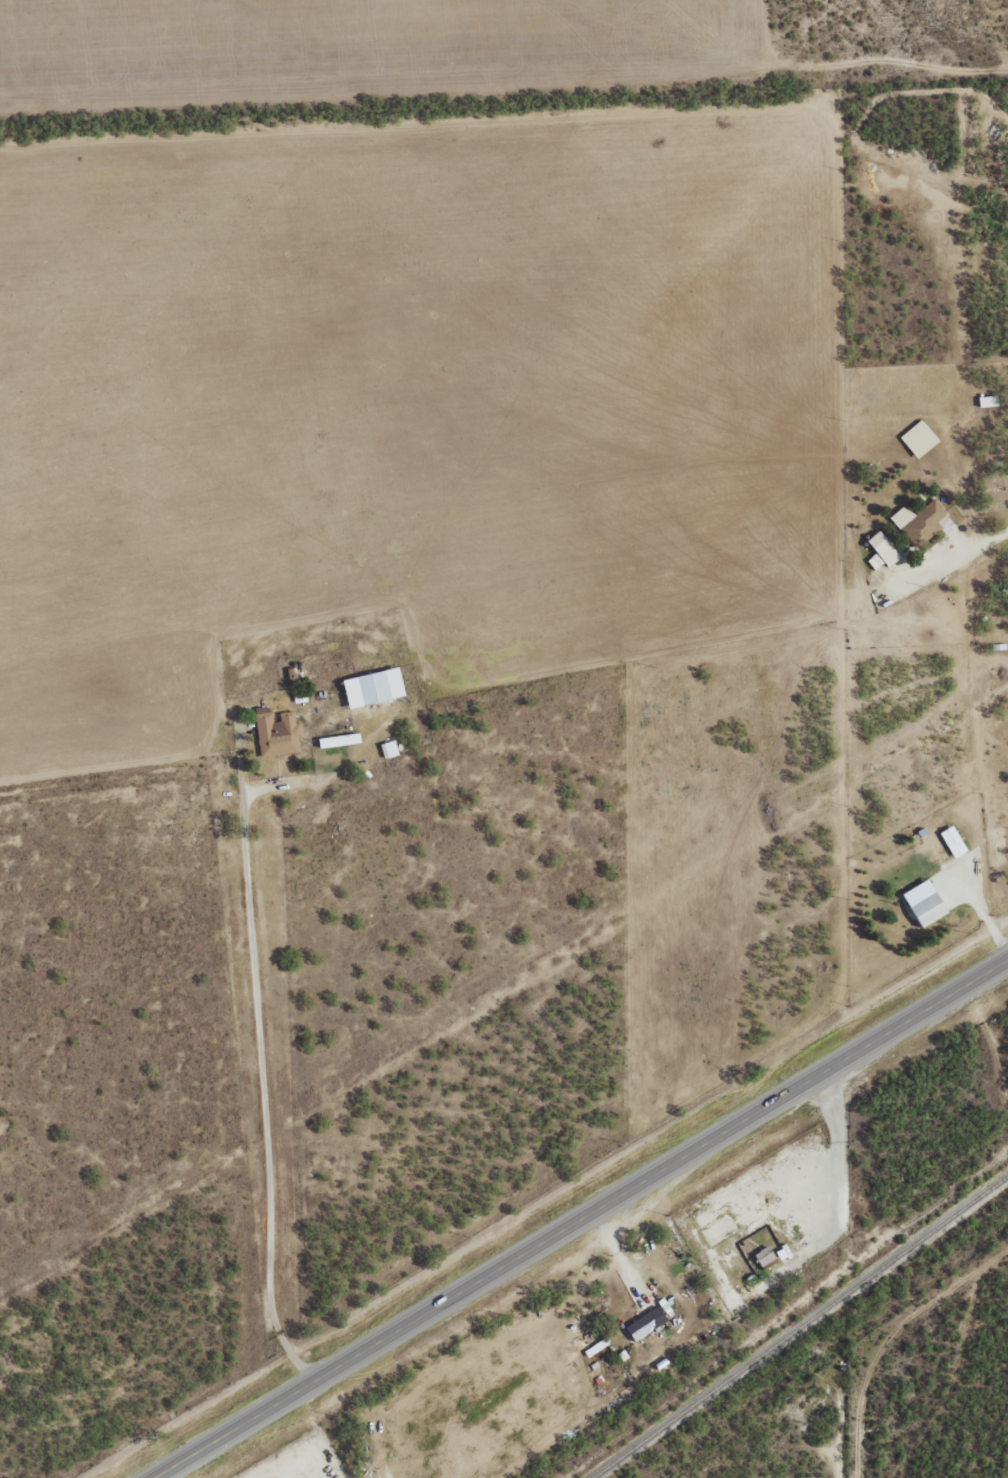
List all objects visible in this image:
building: (988, 401)
building: (919, 522)
building: (882, 552)
building: (293, 673)
building: (374, 687)
building: (277, 733)
building: (340, 740)
building: (389, 749)
building: (953, 842)
building: (925, 904)
road: (595, 1222)
building: (765, 1256)
building: (647, 1323)
railway: (798, 1325)
road: (955, 1361)
road: (835, 1422)

